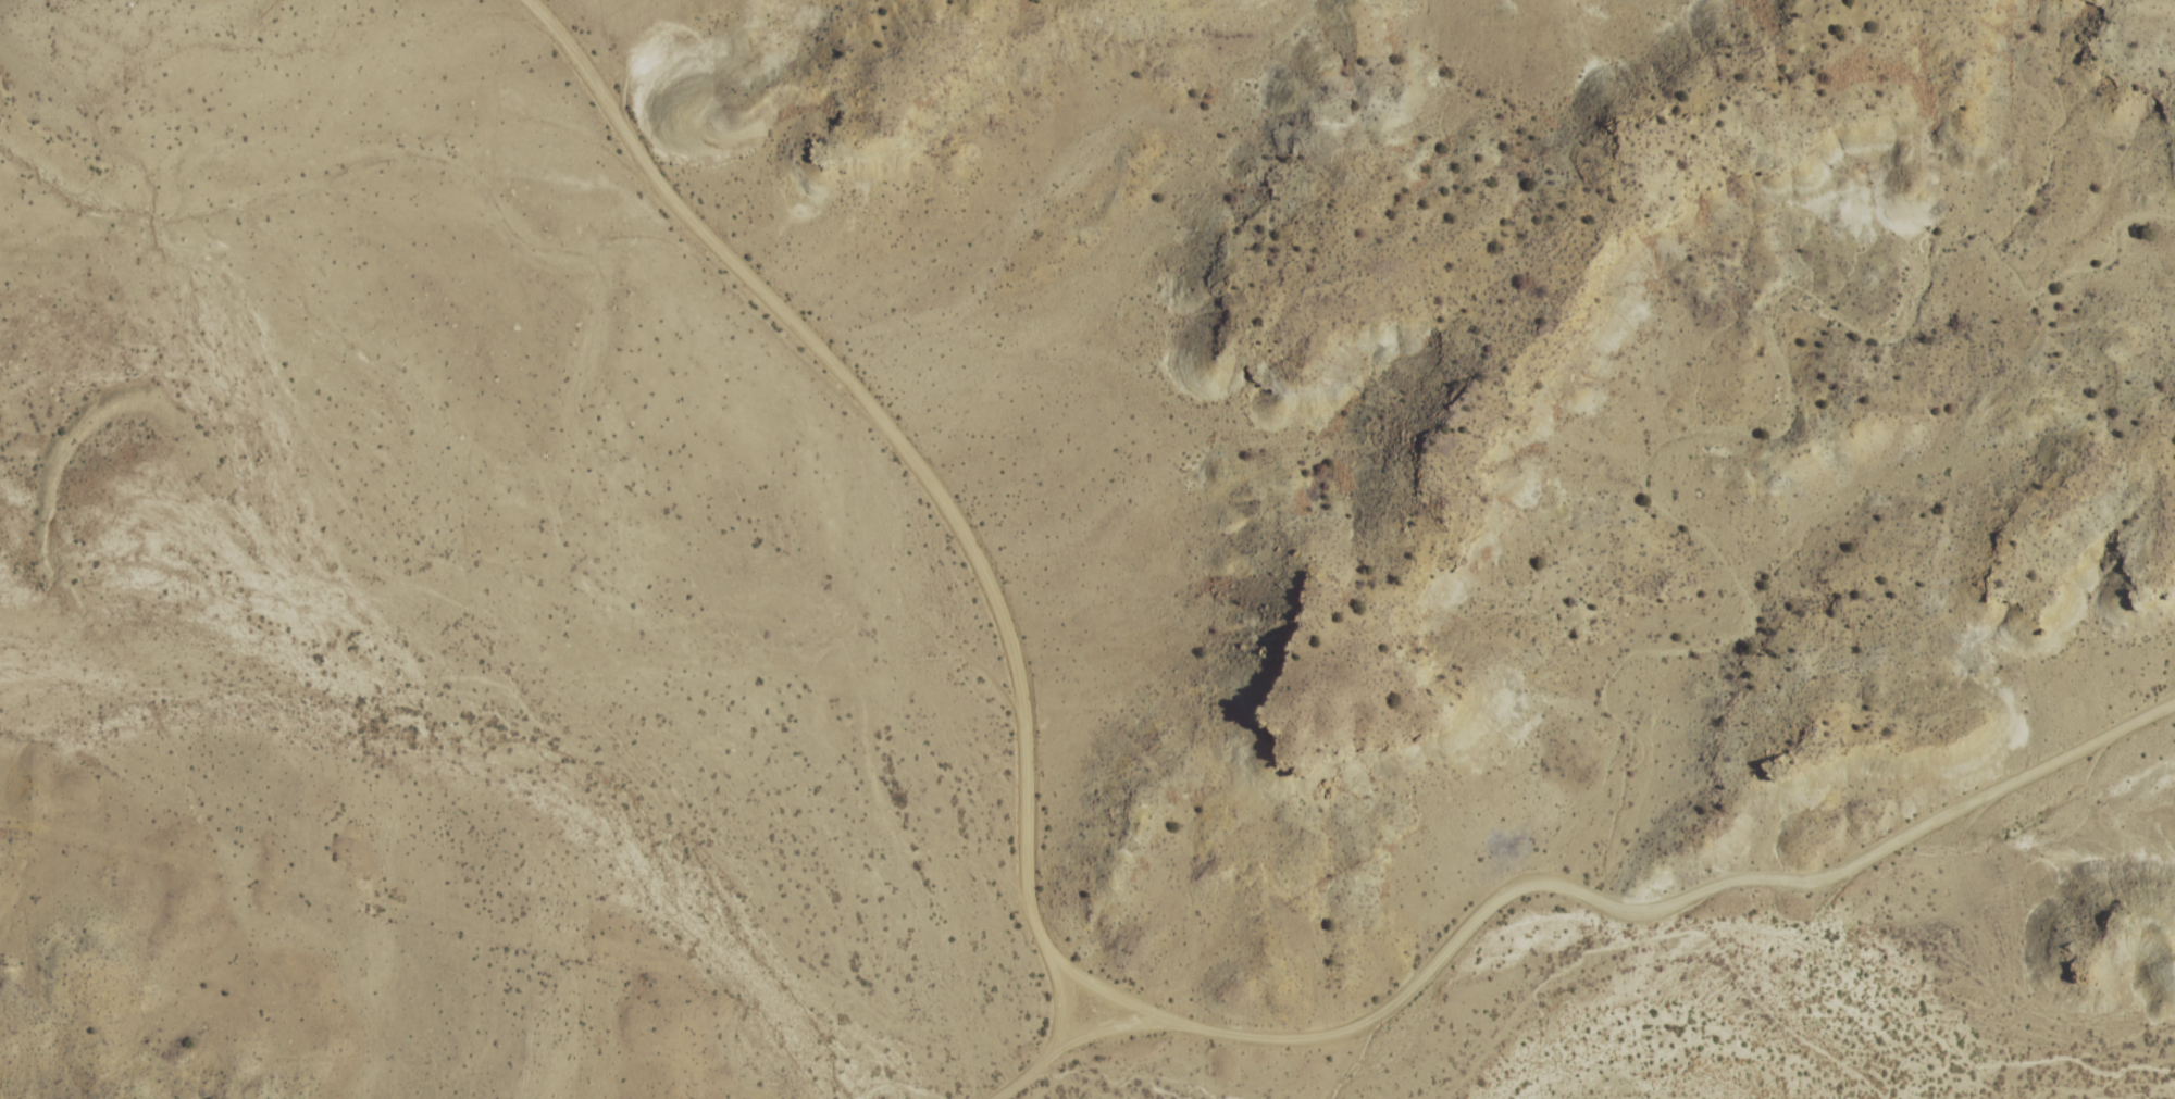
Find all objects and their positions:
road: (1107, 985)
road: (1110, 1022)
road: (1057, 1027)

